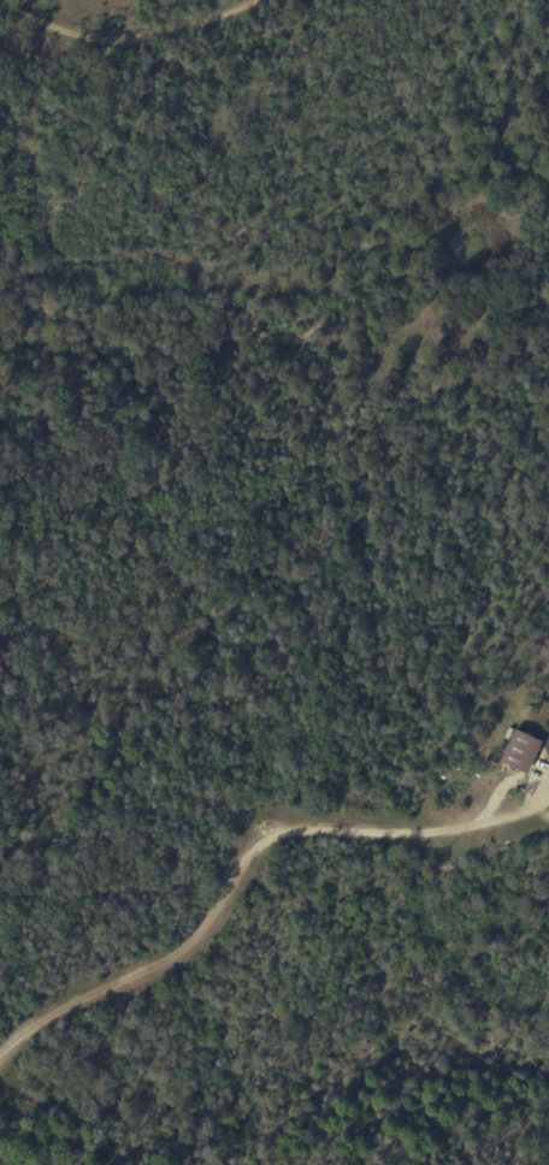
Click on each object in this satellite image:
building: (516, 750)
road: (249, 869)

